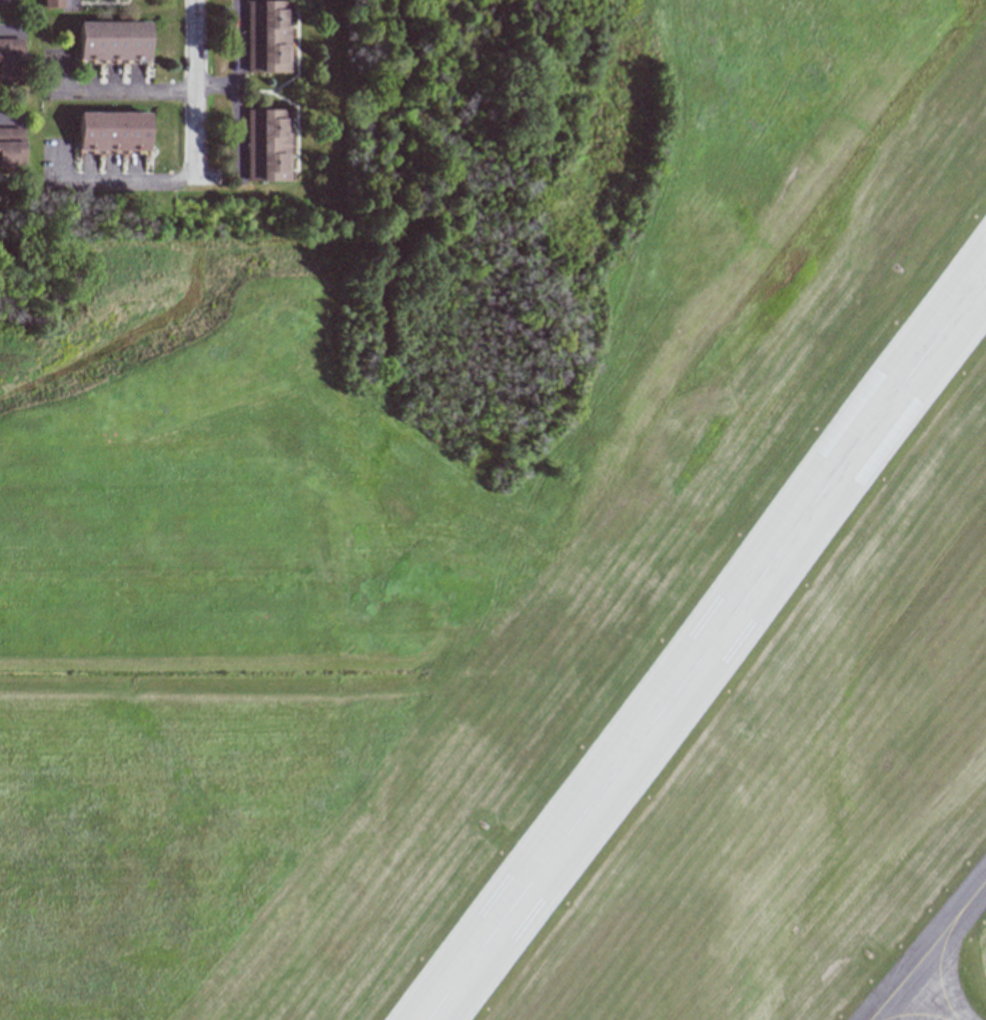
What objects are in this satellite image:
road: (69, 1)
building: (52, 3)
road: (6, 27)
building: (271, 33)
building: (112, 40)
building: (10, 59)
road: (111, 90)
road: (195, 96)
building: (112, 131)
building: (271, 137)
building: (11, 147)
road: (109, 181)
airport: (520, 544)
airport runway: (707, 648)
airport taxiway: (926, 950)
airport taxiway: (937, 966)
airport taxiway: (914, 1012)

